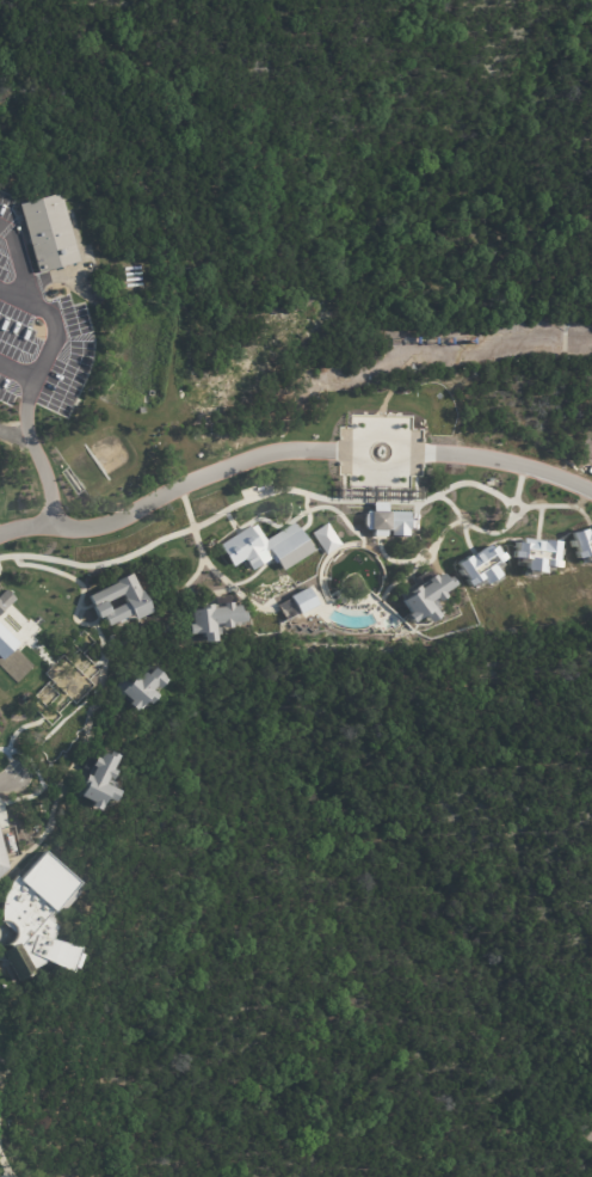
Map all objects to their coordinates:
building: (51, 235)
road: (64, 315)
road: (20, 369)
building: (143, 411)
road: (33, 430)
road: (18, 434)
road: (289, 446)
road: (123, 525)
building: (325, 538)
building: (283, 550)
building: (428, 599)
building: (104, 600)
building: (217, 621)
building: (143, 689)
building: (6, 776)
building: (103, 781)
building: (1, 864)
building: (41, 918)

